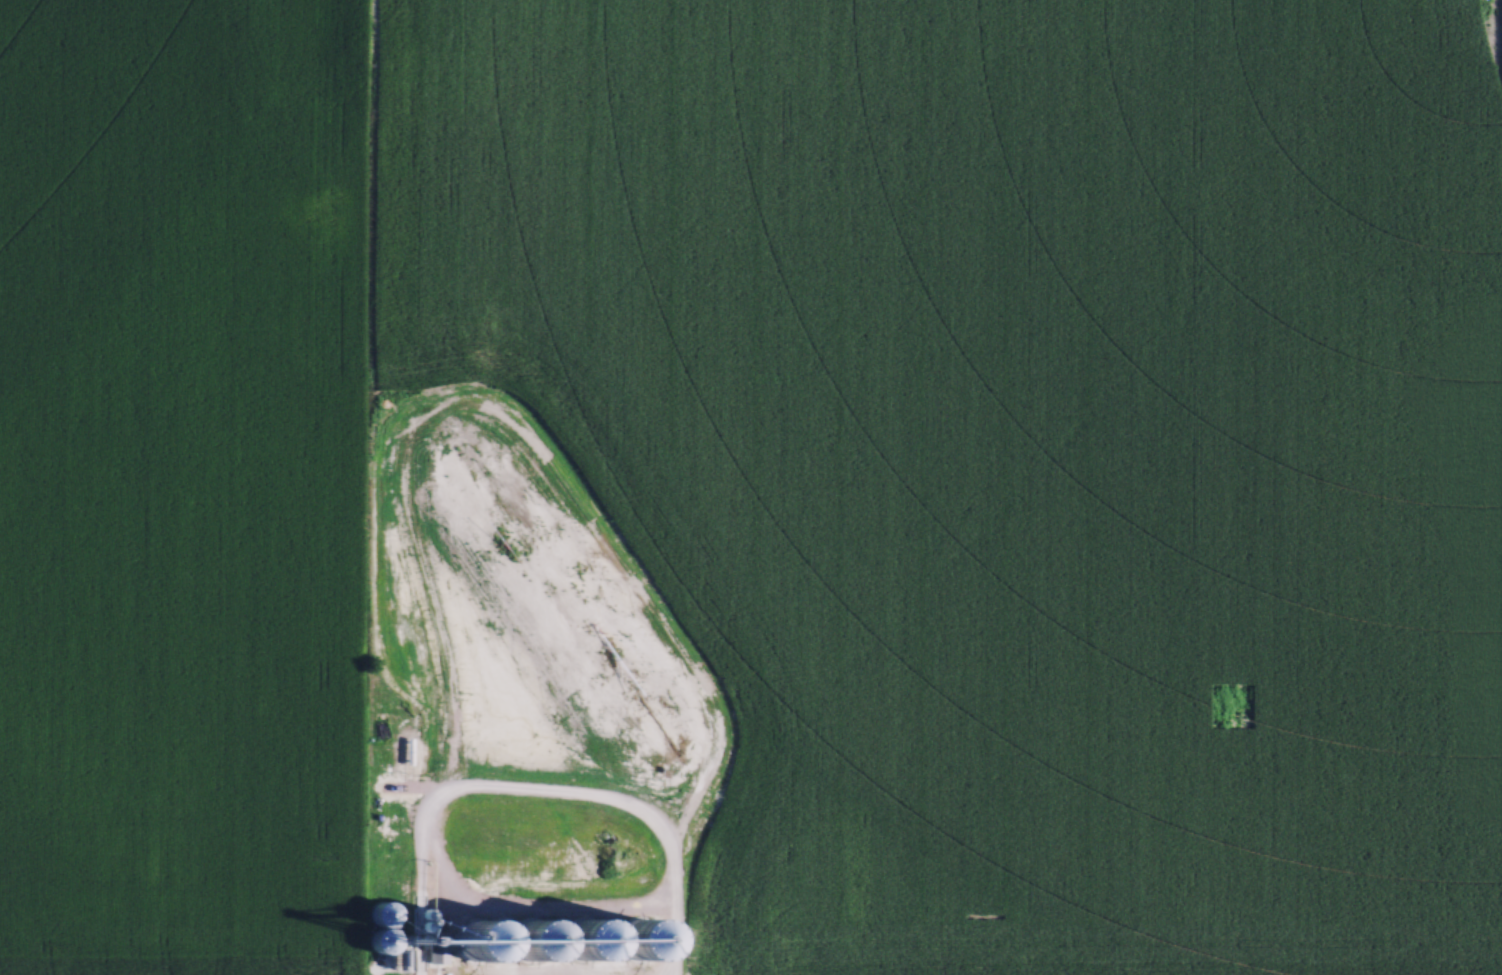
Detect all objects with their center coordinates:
building: (380, 912)
building: (378, 939)
building: (478, 941)
building: (525, 946)

